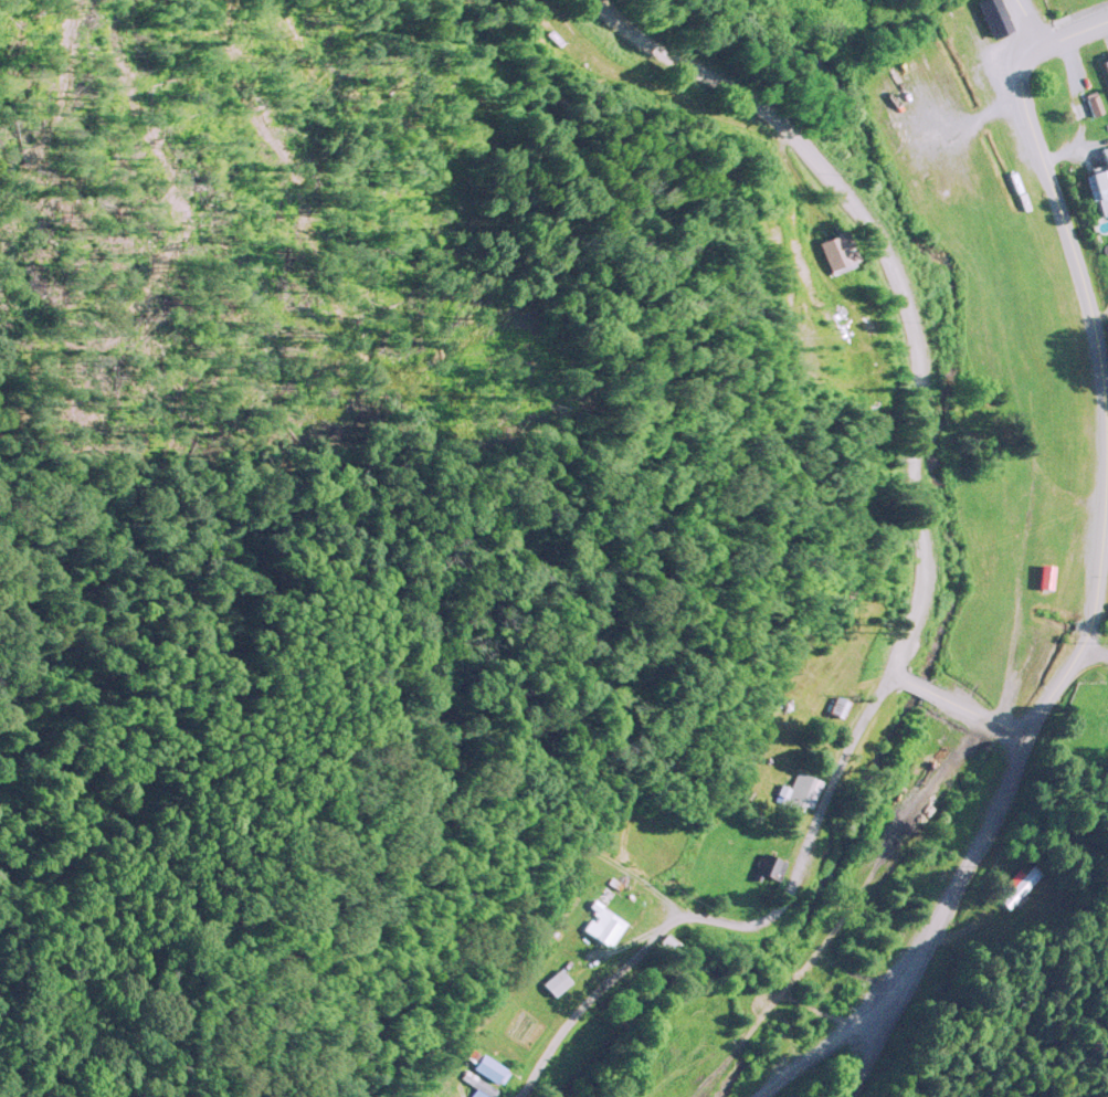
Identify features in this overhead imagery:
railway: (945, 6)
building: (988, 17)
road: (1026, 24)
road: (1066, 33)
building: (1106, 63)
building: (1094, 104)
building: (1099, 181)
road: (893, 273)
railway: (909, 300)
railway: (1079, 363)
road: (1106, 394)
railway: (781, 542)
road: (1104, 552)
building: (1044, 574)
road: (1095, 647)
road: (897, 674)
road: (922, 686)
road: (983, 714)
road: (941, 771)
building: (801, 790)
building: (767, 864)
road: (639, 869)
building: (1020, 885)
railway: (847, 908)
railway: (883, 908)
road: (938, 915)
building: (601, 921)
road: (738, 921)
road: (621, 942)
building: (886, 953)
road: (419, 956)
building: (555, 980)
road: (821, 1046)
building: (490, 1065)
road: (70, 1075)
building: (478, 1080)

